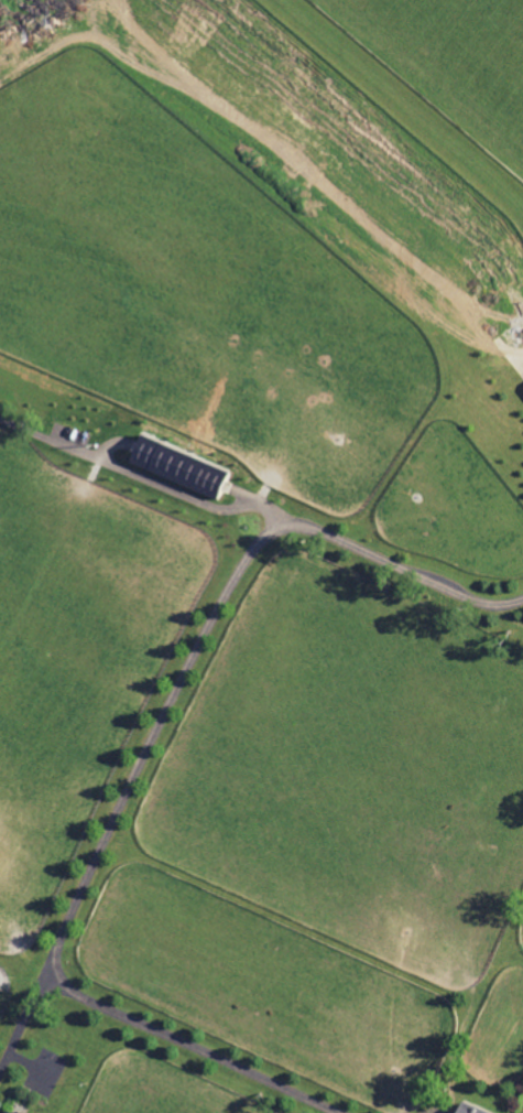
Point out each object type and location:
road: (521, 359)
road: (141, 479)
road: (208, 628)
road: (144, 1025)
building: (469, 1110)
building: (9, 1111)

